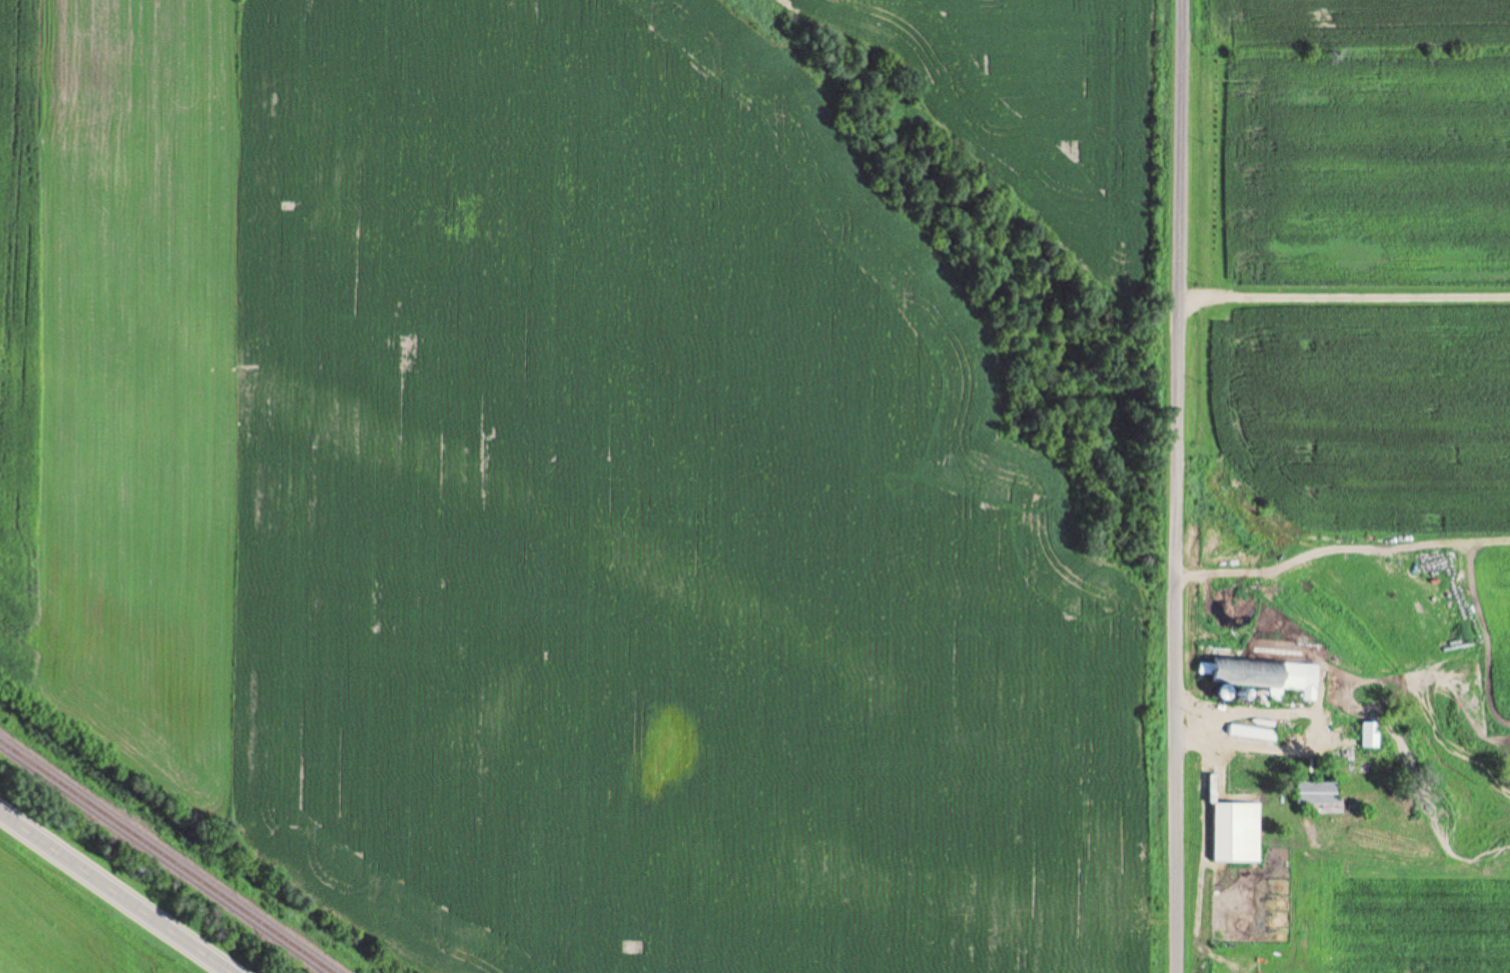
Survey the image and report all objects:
road: (1341, 294)
road: (1174, 486)
building: (1200, 619)
building: (1263, 679)
building: (1370, 735)
building: (1355, 775)
building: (1316, 793)
building: (1229, 832)
railway: (166, 857)
road: (117, 891)

